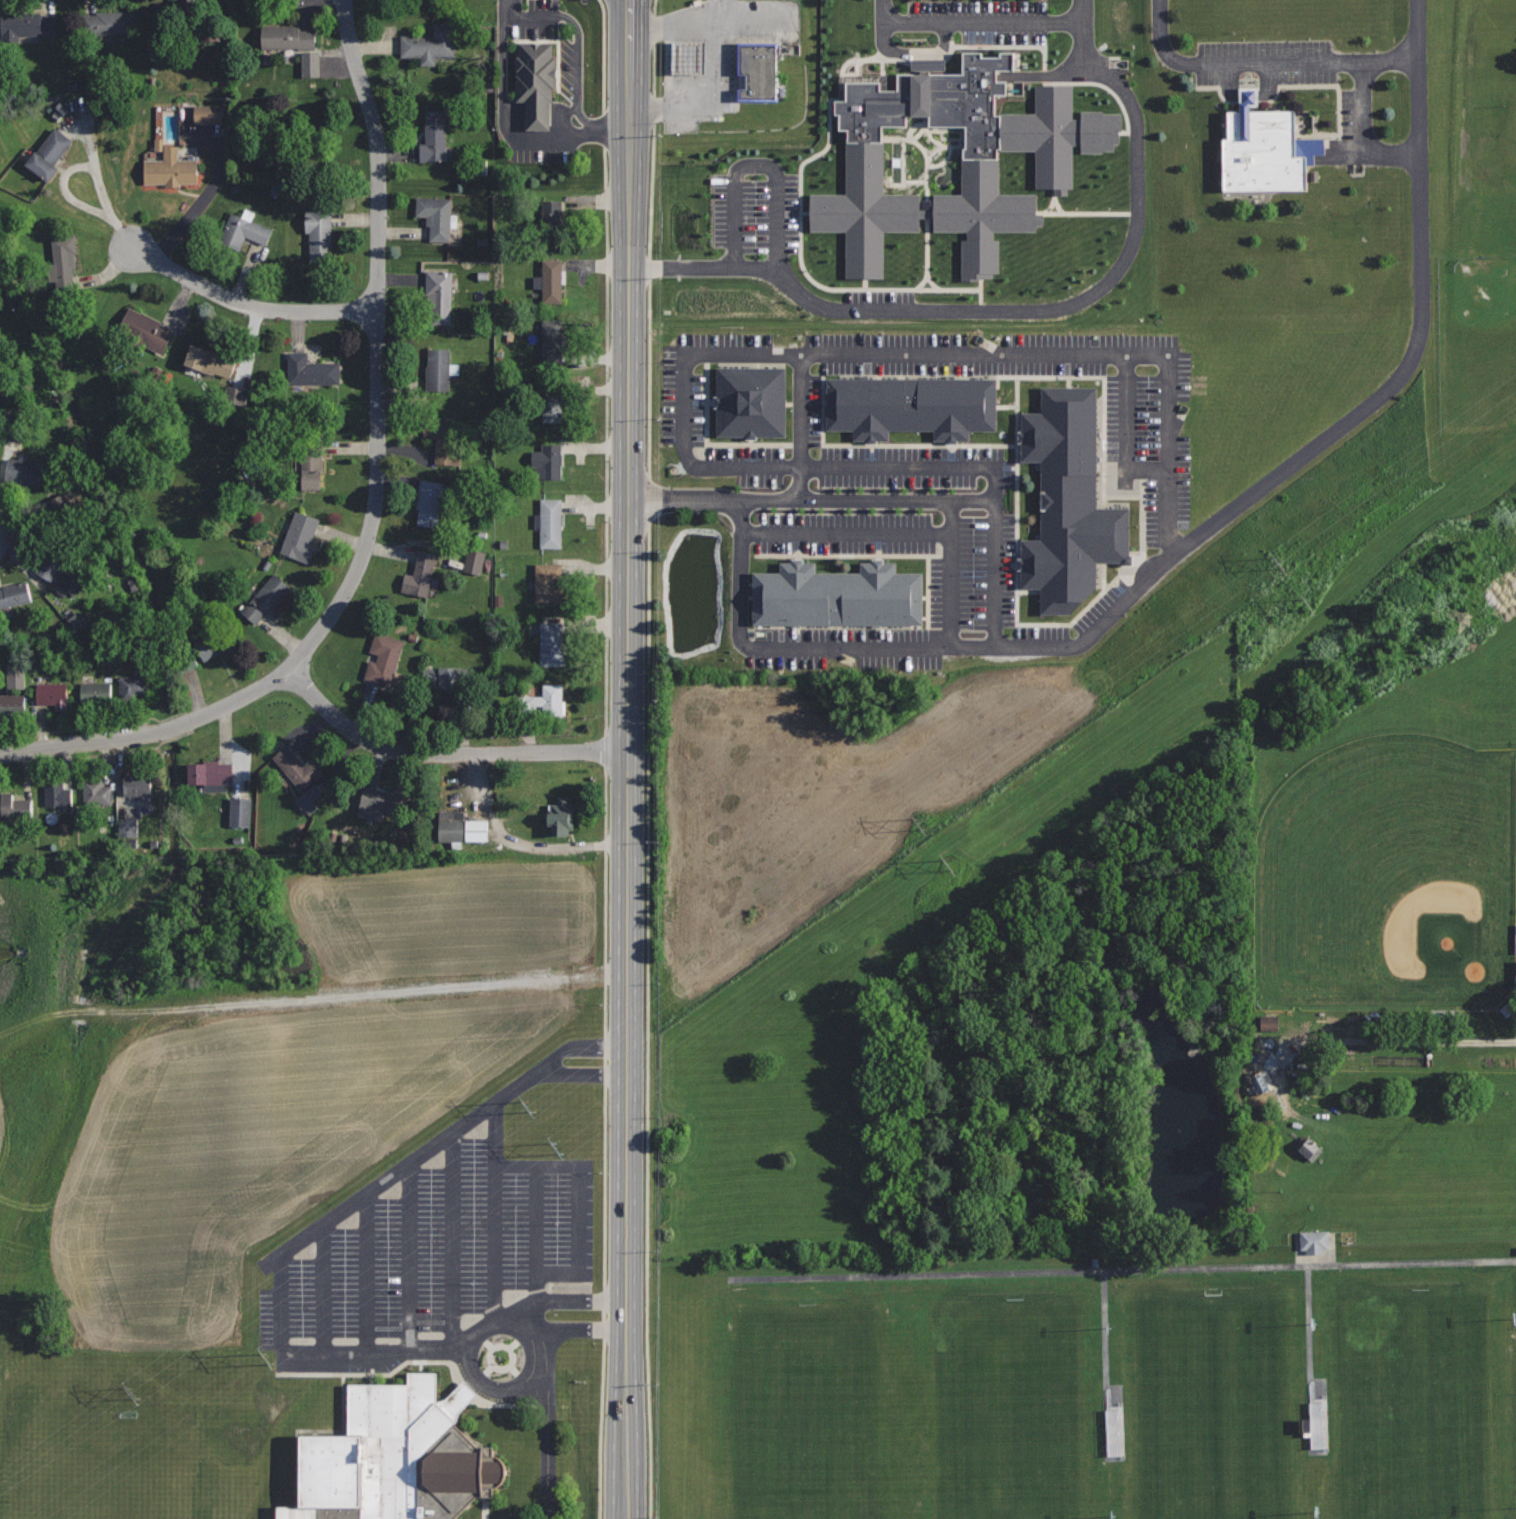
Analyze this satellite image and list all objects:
building: (194, 10)
road: (759, 20)
road: (683, 21)
road: (912, 21)
road: (944, 21)
building: (109, 23)
building: (27, 25)
building: (287, 37)
road: (1079, 37)
building: (431, 43)
parking lot: (710, 53)
building: (682, 57)
road: (1262, 64)
building: (317, 65)
building: (758, 70)
building: (537, 81)
parking lot: (1357, 89)
road: (717, 105)
road: (1360, 110)
building: (214, 115)
road: (505, 125)
building: (435, 137)
building: (1261, 148)
building: (48, 154)
road: (1367, 157)
parking lot: (754, 159)
road: (88, 166)
building: (170, 168)
building: (1053, 170)
road: (211, 195)
building: (436, 215)
building: (552, 217)
building: (243, 231)
building: (319, 233)
road: (652, 236)
building: (64, 263)
road: (754, 265)
building: (552, 280)
building: (440, 292)
road: (250, 305)
road: (938, 312)
building: (146, 330)
building: (552, 341)
road: (734, 355)
building: (210, 361)
building: (311, 369)
building: (438, 369)
building: (747, 402)
building: (911, 406)
building: (550, 411)
road: (1128, 426)
road: (801, 427)
road: (1339, 430)
building: (444, 436)
building: (550, 458)
building: (310, 469)
building: (22, 473)
road: (374, 496)
parking lot: (1167, 500)
building: (432, 501)
road: (810, 501)
building: (1066, 502)
building: (64, 512)
building: (551, 522)
road: (847, 533)
building: (300, 537)
building: (51, 563)
building: (478, 563)
power tower: (1279, 563)
building: (419, 574)
road: (952, 574)
building: (548, 582)
building: (72, 585)
building: (15, 594)
building: (833, 595)
building: (266, 598)
power tower: (1309, 605)
building: (551, 643)
building: (212, 644)
road: (777, 648)
building: (383, 657)
building: (20, 678)
building: (448, 678)
building: (133, 686)
building: (95, 692)
building: (53, 694)
building: (546, 701)
building: (12, 705)
road: (442, 753)
road: (628, 759)
building: (297, 767)
building: (210, 772)
road: (120, 781)
building: (137, 784)
building: (58, 790)
building: (96, 792)
building: (314, 800)
building: (383, 801)
building: (15, 807)
building: (244, 814)
building: (560, 814)
power tower: (920, 822)
building: (458, 827)
building: (133, 829)
power tower: (951, 863)
park: (1388, 878)
building: (1515, 973)
road: (339, 996)
road: (646, 1022)
building: (1265, 1022)
road: (1386, 1043)
road: (595, 1049)
road: (577, 1074)
power tower: (526, 1109)
power tower: (558, 1149)
road: (580, 1198)
road: (495, 1210)
road: (536, 1233)
road: (302, 1239)
building: (1310, 1241)
road: (455, 1243)
parking lot: (457, 1251)
road: (412, 1259)
road: (1122, 1269)
road: (369, 1275)
road: (323, 1292)
road: (565, 1302)
road: (575, 1329)
road: (1309, 1332)
road: (527, 1334)
road: (1105, 1339)
power tower: (270, 1359)
power tower: (133, 1395)
park: (1417, 1399)
park: (1211, 1408)
park: (1004, 1411)
park: (808, 1413)
road: (545, 1444)
building: (388, 1458)

